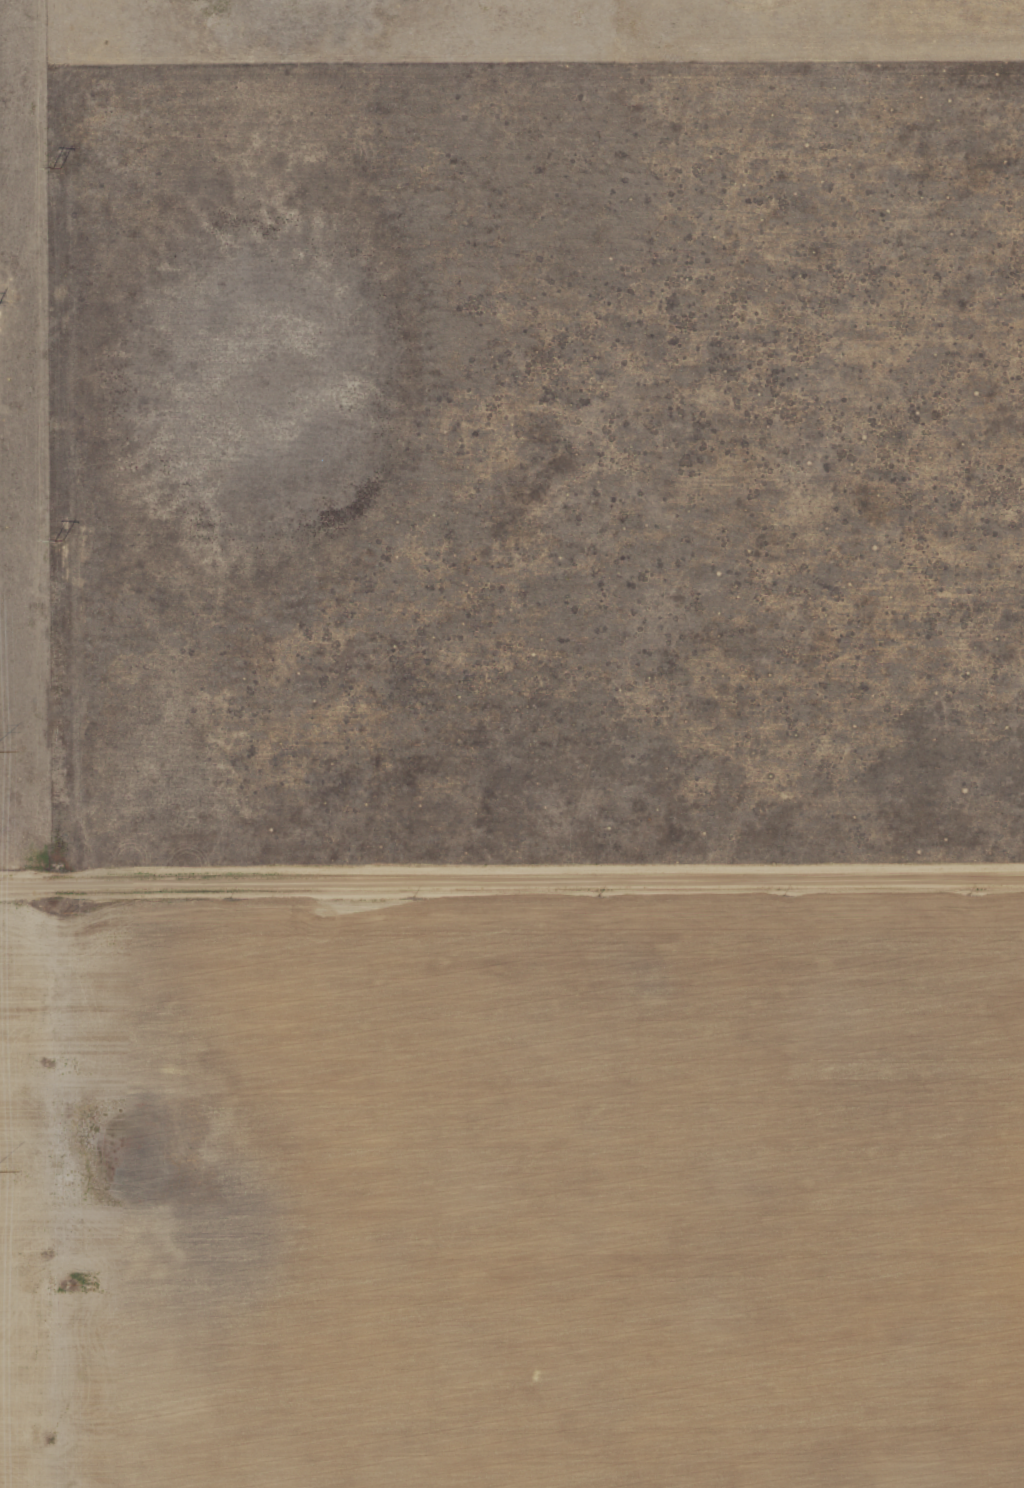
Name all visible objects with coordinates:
road: (511, 877)

